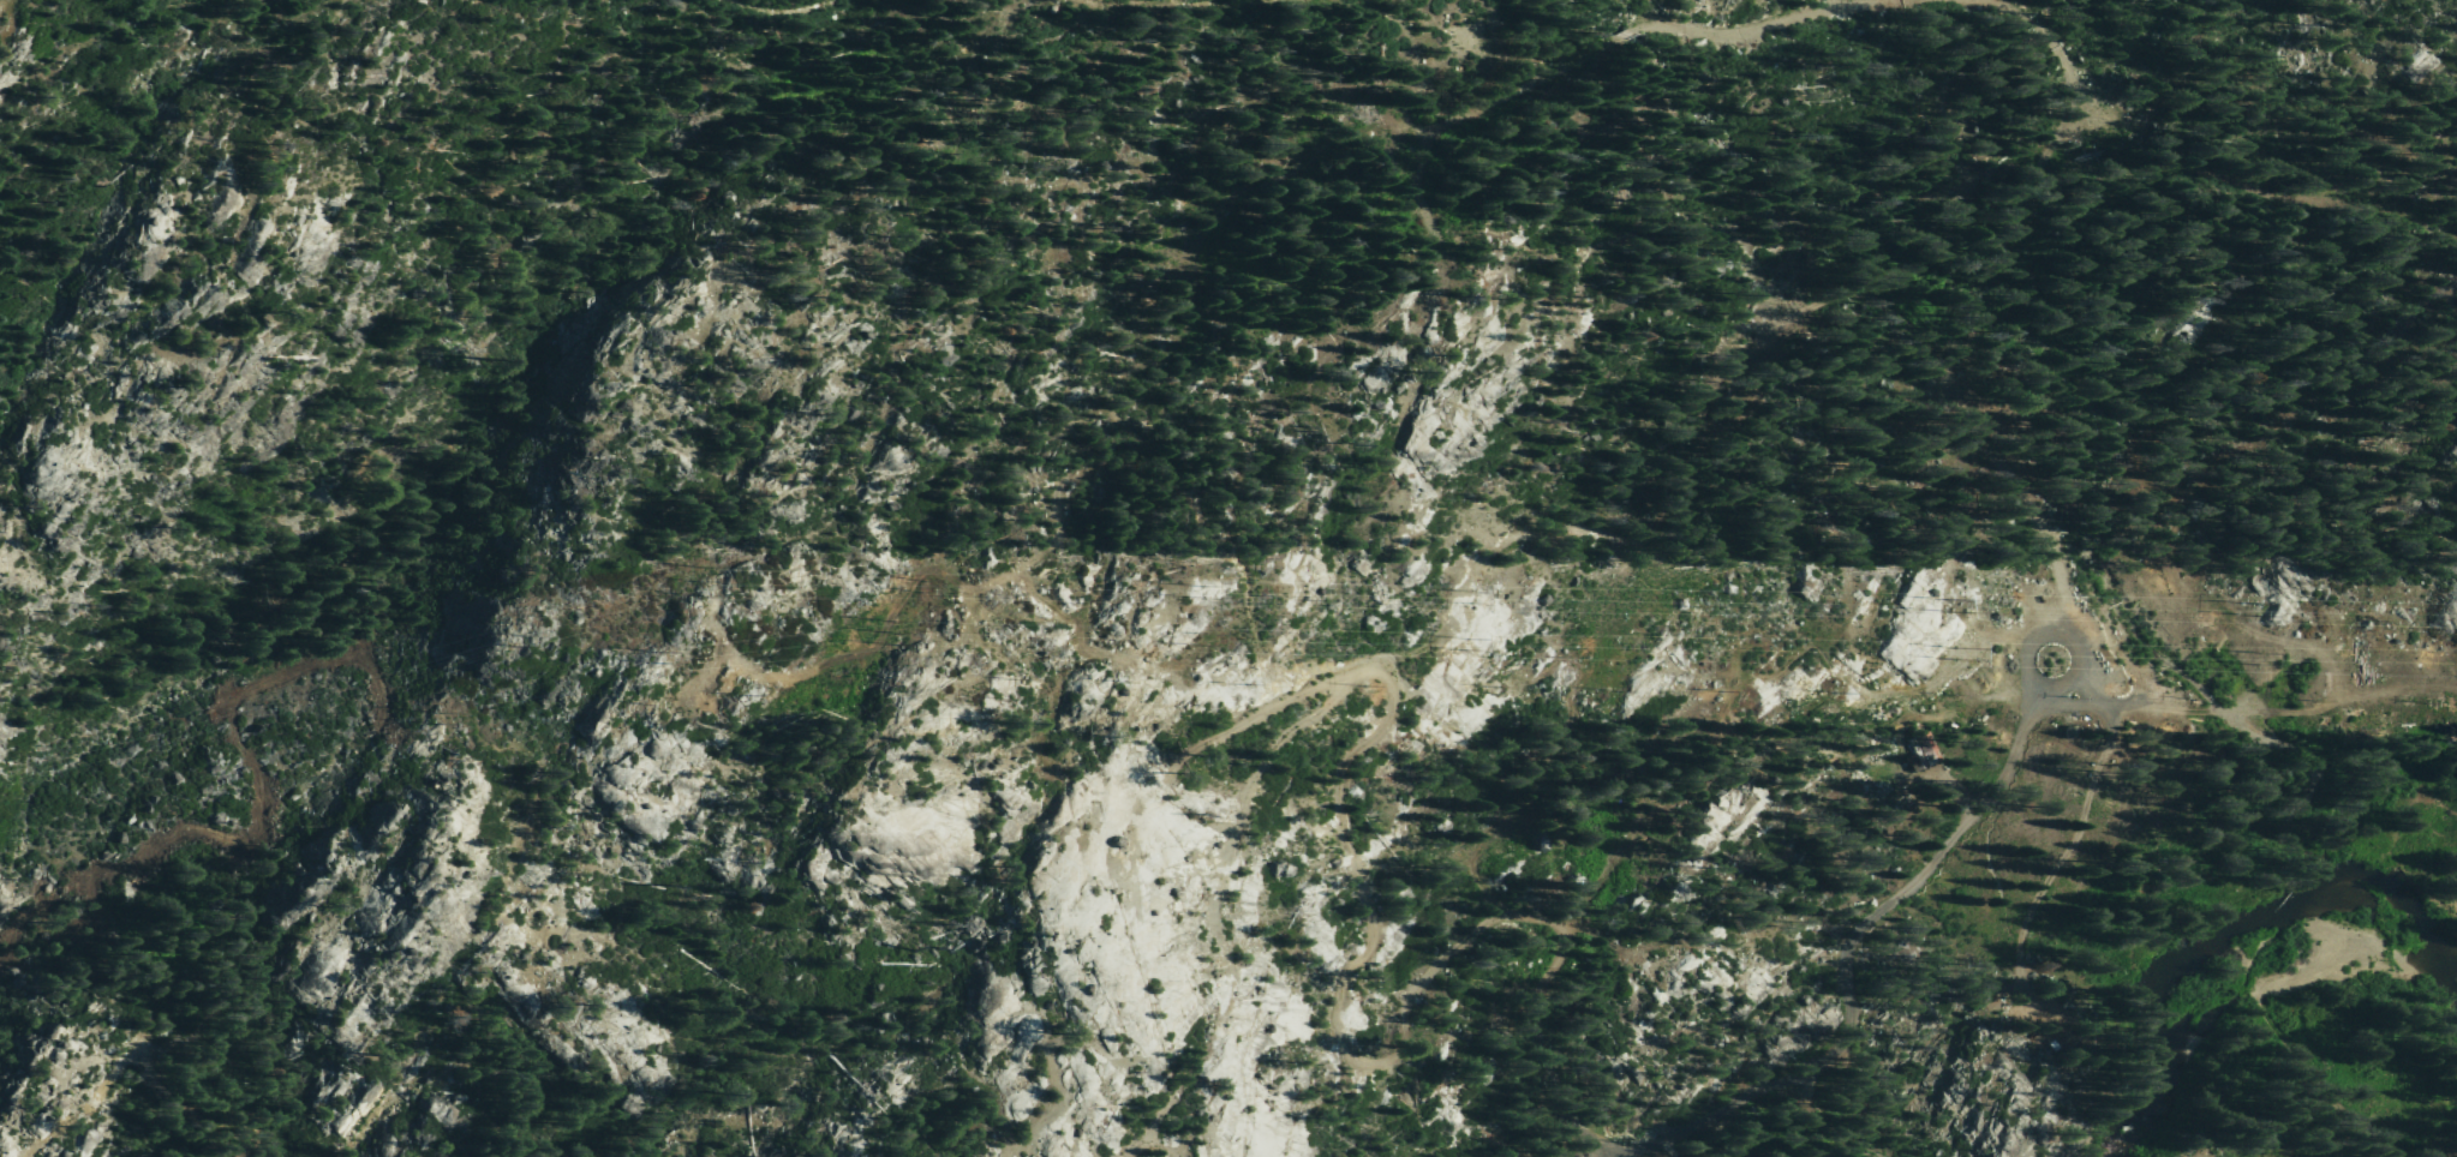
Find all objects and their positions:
power tower: (704, 578)
power tower: (926, 582)
power tower: (1198, 591)
power tower: (1466, 597)
power tower: (1941, 603)
power tower: (2258, 607)
power tower: (495, 633)
power tower: (897, 633)
power tower: (1204, 637)
power tower: (1464, 645)
power tower: (1899, 649)
power tower: (654, 652)
power tower: (2255, 659)
power tower: (436, 715)
river: (2391, 814)
river: (2455, 816)
river: (2188, 982)
road: (1848, 1009)

